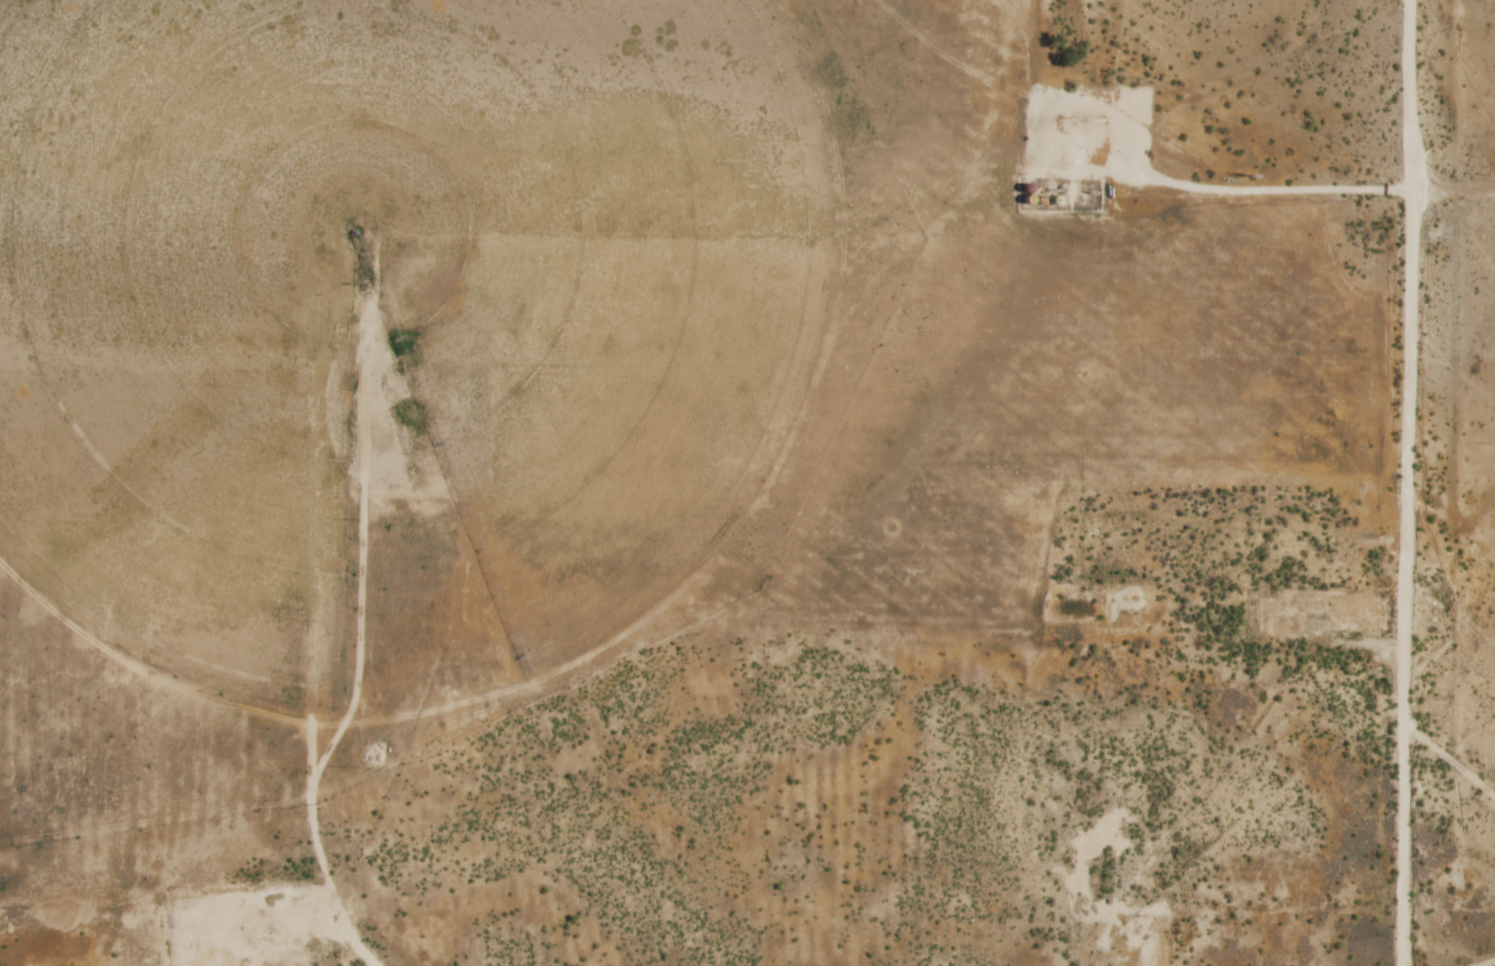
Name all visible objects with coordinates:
road: (1409, 483)

